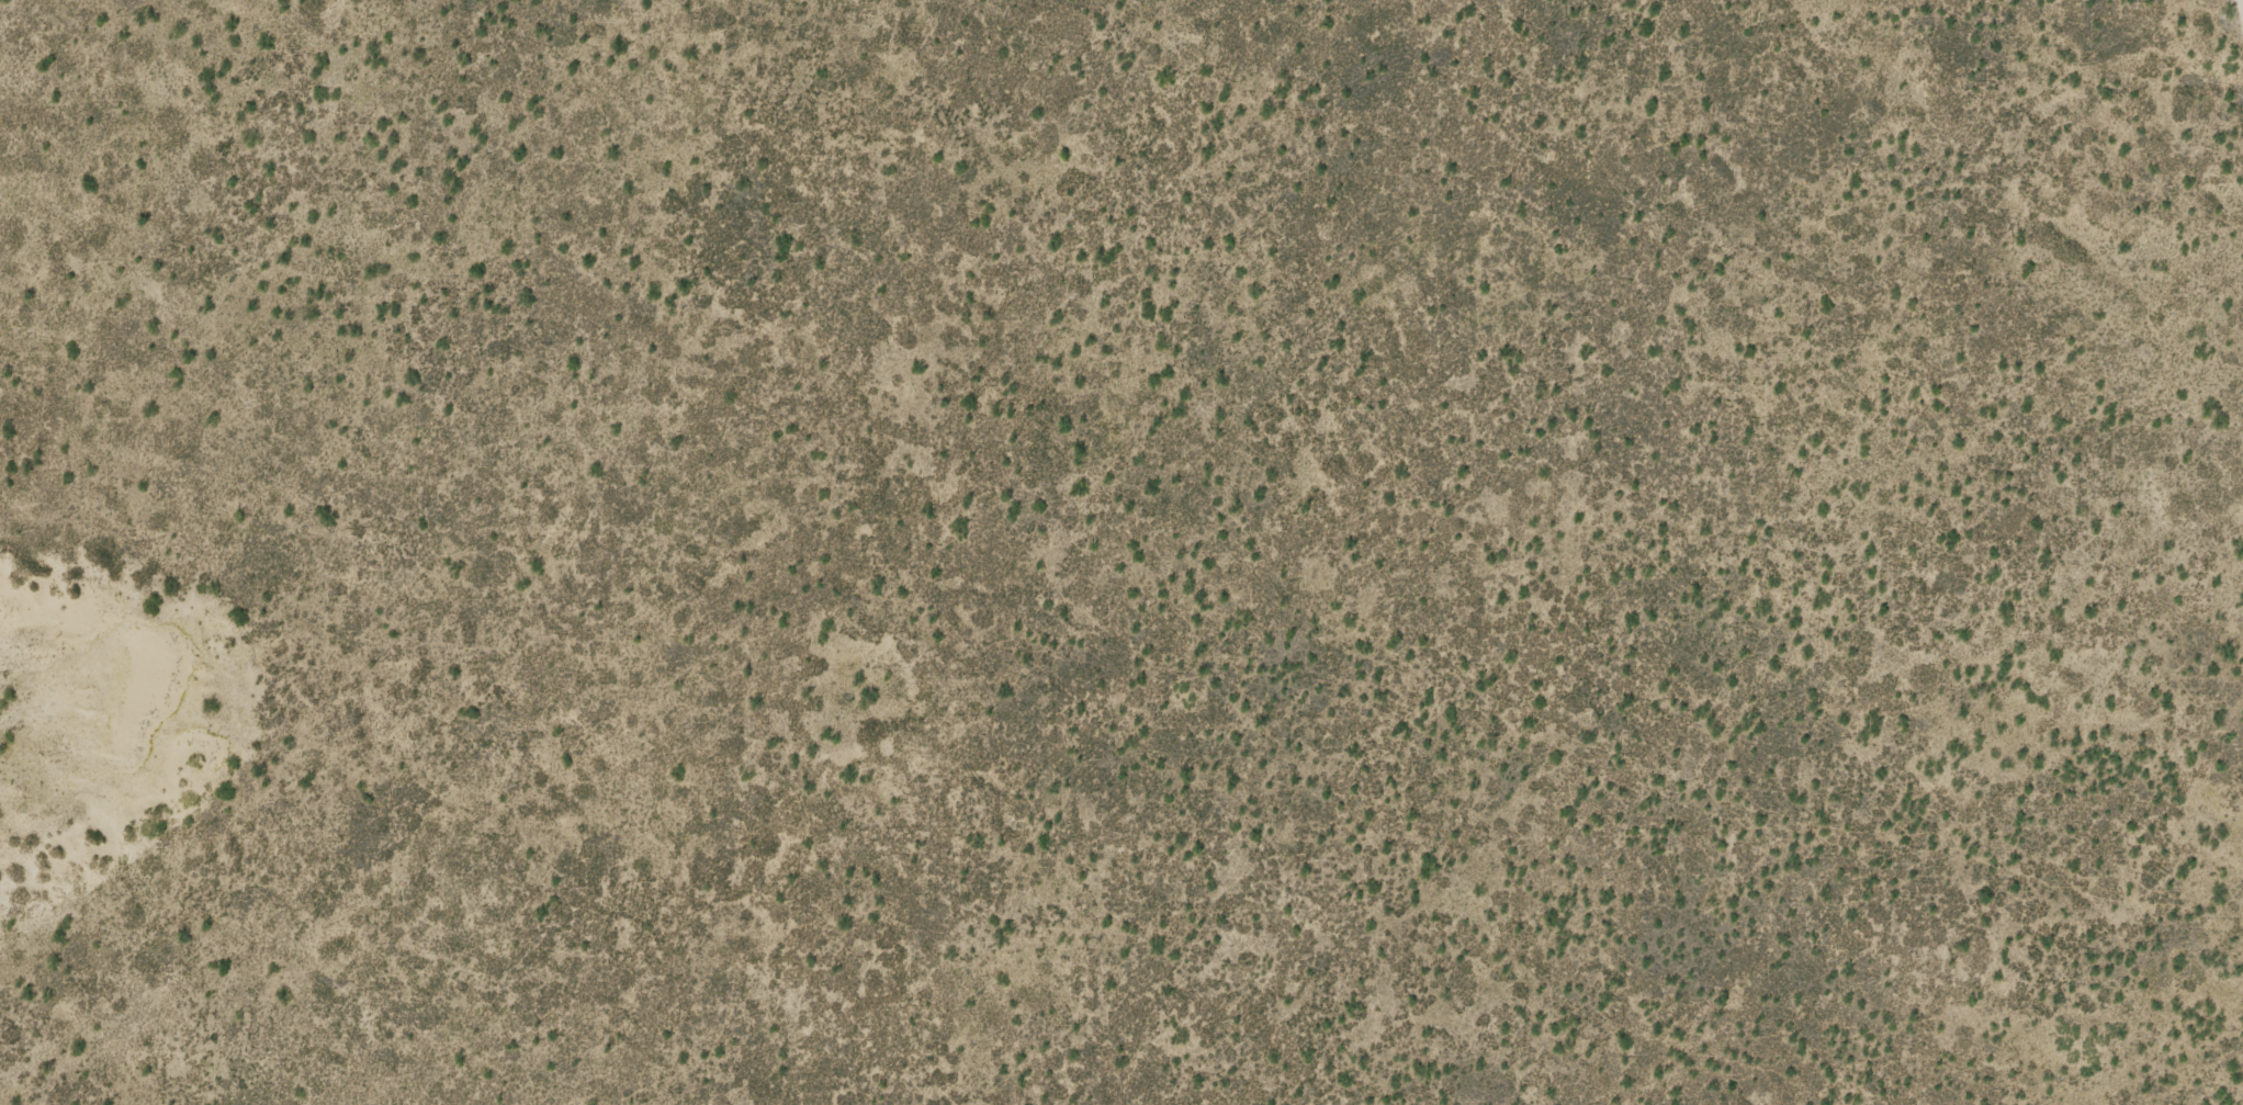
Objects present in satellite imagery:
road: (2238, 18)

